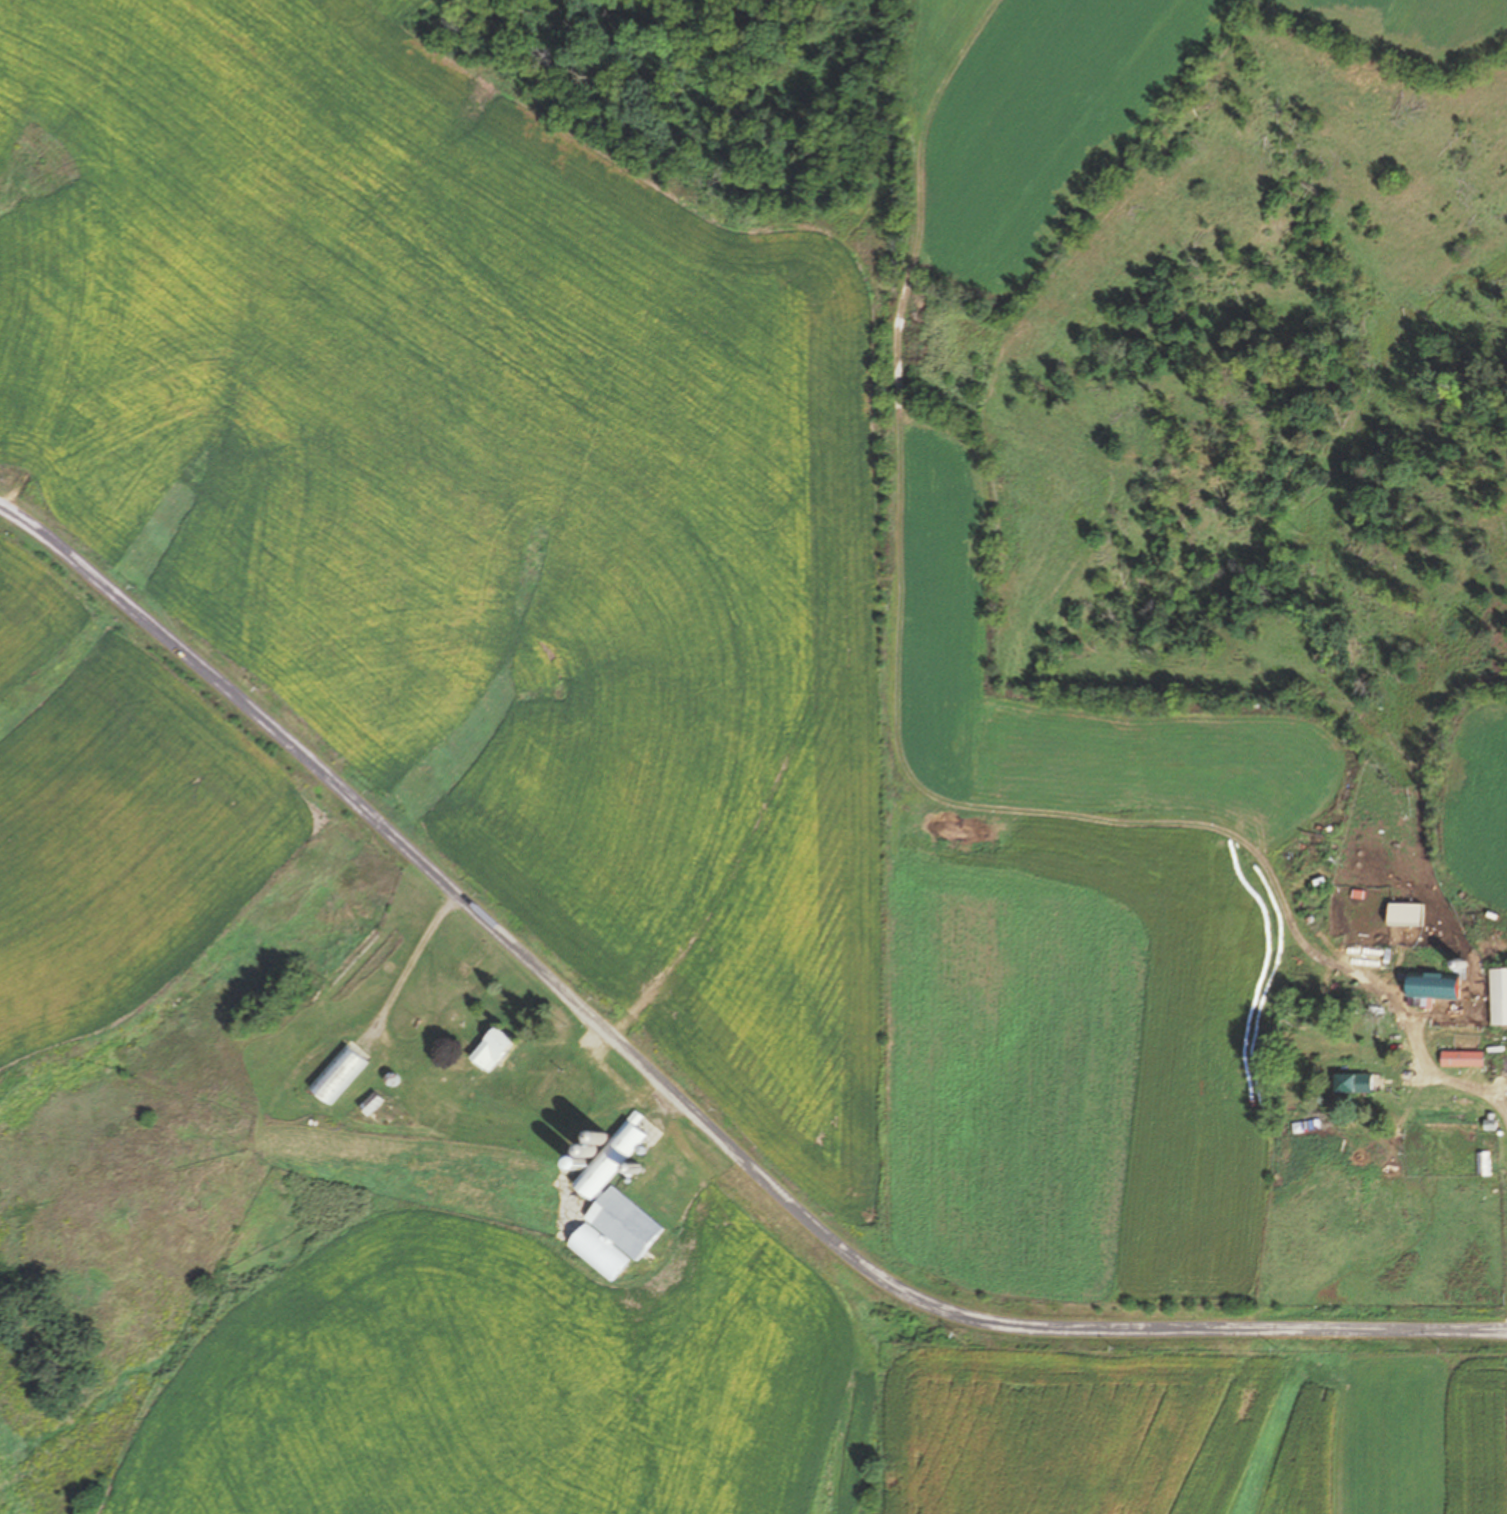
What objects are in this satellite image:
building: (1404, 915)
building: (1432, 988)
building: (1498, 997)
building: (490, 1053)
building: (1461, 1059)
building: (339, 1077)
building: (1352, 1084)
road: (680, 1100)
building: (1484, 1164)
building: (619, 1195)

